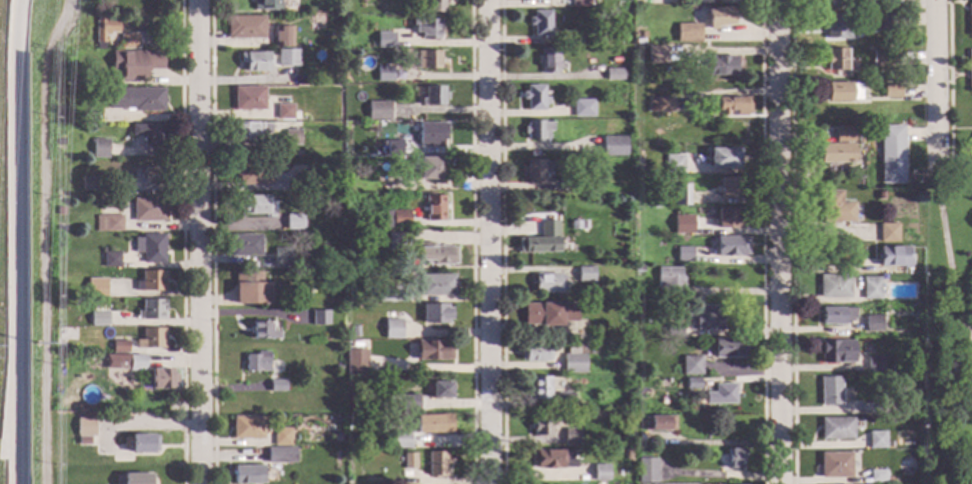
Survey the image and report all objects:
building: (579, 3)
building: (835, 4)
building: (267, 5)
building: (434, 6)
building: (718, 17)
building: (318, 19)
building: (969, 19)
building: (540, 23)
building: (143, 25)
building: (887, 25)
building: (245, 27)
building: (835, 27)
building: (427, 28)
building: (104, 29)
building: (687, 33)
building: (642, 34)
building: (283, 37)
building: (579, 38)
building: (385, 40)
building: (68, 41)
building: (128, 41)
building: (656, 55)
building: (287, 58)
building: (834, 59)
building: (428, 60)
building: (884, 60)
building: (255, 61)
building: (549, 61)
building: (135, 63)
building: (720, 66)
building: (969, 70)
building: (624, 73)
building: (369, 74)
building: (386, 74)
building: (613, 74)
road: (946, 82)
road: (935, 83)
building: (890, 91)
building: (842, 92)
building: (103, 94)
building: (433, 96)
building: (249, 98)
building: (534, 98)
building: (136, 99)
building: (659, 105)
building: (731, 107)
building: (582, 108)
building: (284, 112)
building: (381, 112)
building: (296, 116)
building: (537, 130)
building: (242, 131)
building: (843, 133)
building: (149, 135)
building: (431, 135)
building: (292, 138)
building: (60, 142)
building: (382, 145)
building: (613, 146)
building: (100, 148)
building: (393, 148)
building: (382, 151)
building: (296, 153)
building: (835, 153)
building: (890, 155)
building: (723, 158)
building: (348, 163)
building: (673, 164)
road: (954, 165)
building: (646, 166)
building: (432, 168)
building: (534, 171)
building: (154, 175)
building: (253, 175)
building: (320, 175)
building: (305, 180)
building: (88, 183)
building: (565, 184)
building: (385, 185)
building: (729, 187)
road: (952, 188)
building: (681, 195)
road: (950, 195)
building: (879, 196)
building: (316, 203)
building: (254, 205)
building: (434, 208)
building: (835, 208)
building: (148, 209)
building: (60, 210)
building: (396, 218)
building: (727, 219)
building: (294, 222)
building: (108, 223)
building: (574, 225)
building: (684, 226)
building: (58, 229)
building: (887, 233)
road: (42, 238)
building: (541, 240)
road: (12, 241)
road: (199, 242)
building: (399, 242)
road: (490, 242)
road: (777, 242)
road: (790, 242)
building: (244, 246)
building: (731, 246)
building: (150, 248)
road: (950, 253)
building: (435, 254)
building: (684, 255)
building: (893, 257)
building: (282, 258)
building: (108, 260)
building: (355, 263)
building: (638, 269)
building: (584, 274)
building: (151, 281)
building: (669, 281)
building: (548, 284)
building: (436, 285)
building: (833, 286)
building: (97, 288)
building: (249, 288)
building: (870, 288)
building: (393, 294)
building: (915, 308)
building: (151, 310)
building: (435, 314)
building: (549, 314)
building: (835, 316)
building: (318, 317)
building: (98, 318)
building: (704, 318)
building: (872, 323)
park: (950, 328)
building: (391, 329)
building: (262, 331)
building: (674, 331)
building: (353, 336)
building: (150, 339)
building: (569, 341)
building: (608, 343)
power tower: (36, 344)
building: (119, 347)
building: (729, 347)
building: (73, 348)
building: (433, 351)
building: (836, 352)
building: (535, 353)
building: (256, 362)
building: (355, 362)
building: (573, 362)
building: (136, 363)
building: (874, 364)
building: (690, 365)
building: (339, 369)
building: (114, 378)
building: (160, 378)
building: (624, 383)
building: (682, 383)
building: (692, 383)
building: (276, 386)
building: (540, 388)
building: (440, 390)
building: (829, 391)
building: (720, 395)
building: (347, 399)
building: (564, 401)
building: (409, 404)
building: (873, 409)
building: (58, 423)
building: (658, 423)
building: (433, 424)
building: (541, 426)
building: (84, 427)
building: (247, 428)
building: (836, 429)
building: (281, 437)
building: (571, 437)
building: (400, 440)
building: (627, 440)
building: (875, 440)
building: (140, 444)
building: (280, 455)
building: (628, 455)
building: (733, 458)
building: (552, 459)
building: (409, 462)
building: (437, 465)
building: (834, 465)
building: (646, 471)
building: (600, 473)
building: (248, 475)
building: (876, 476)
building: (136, 479)
building: (348, 483)

